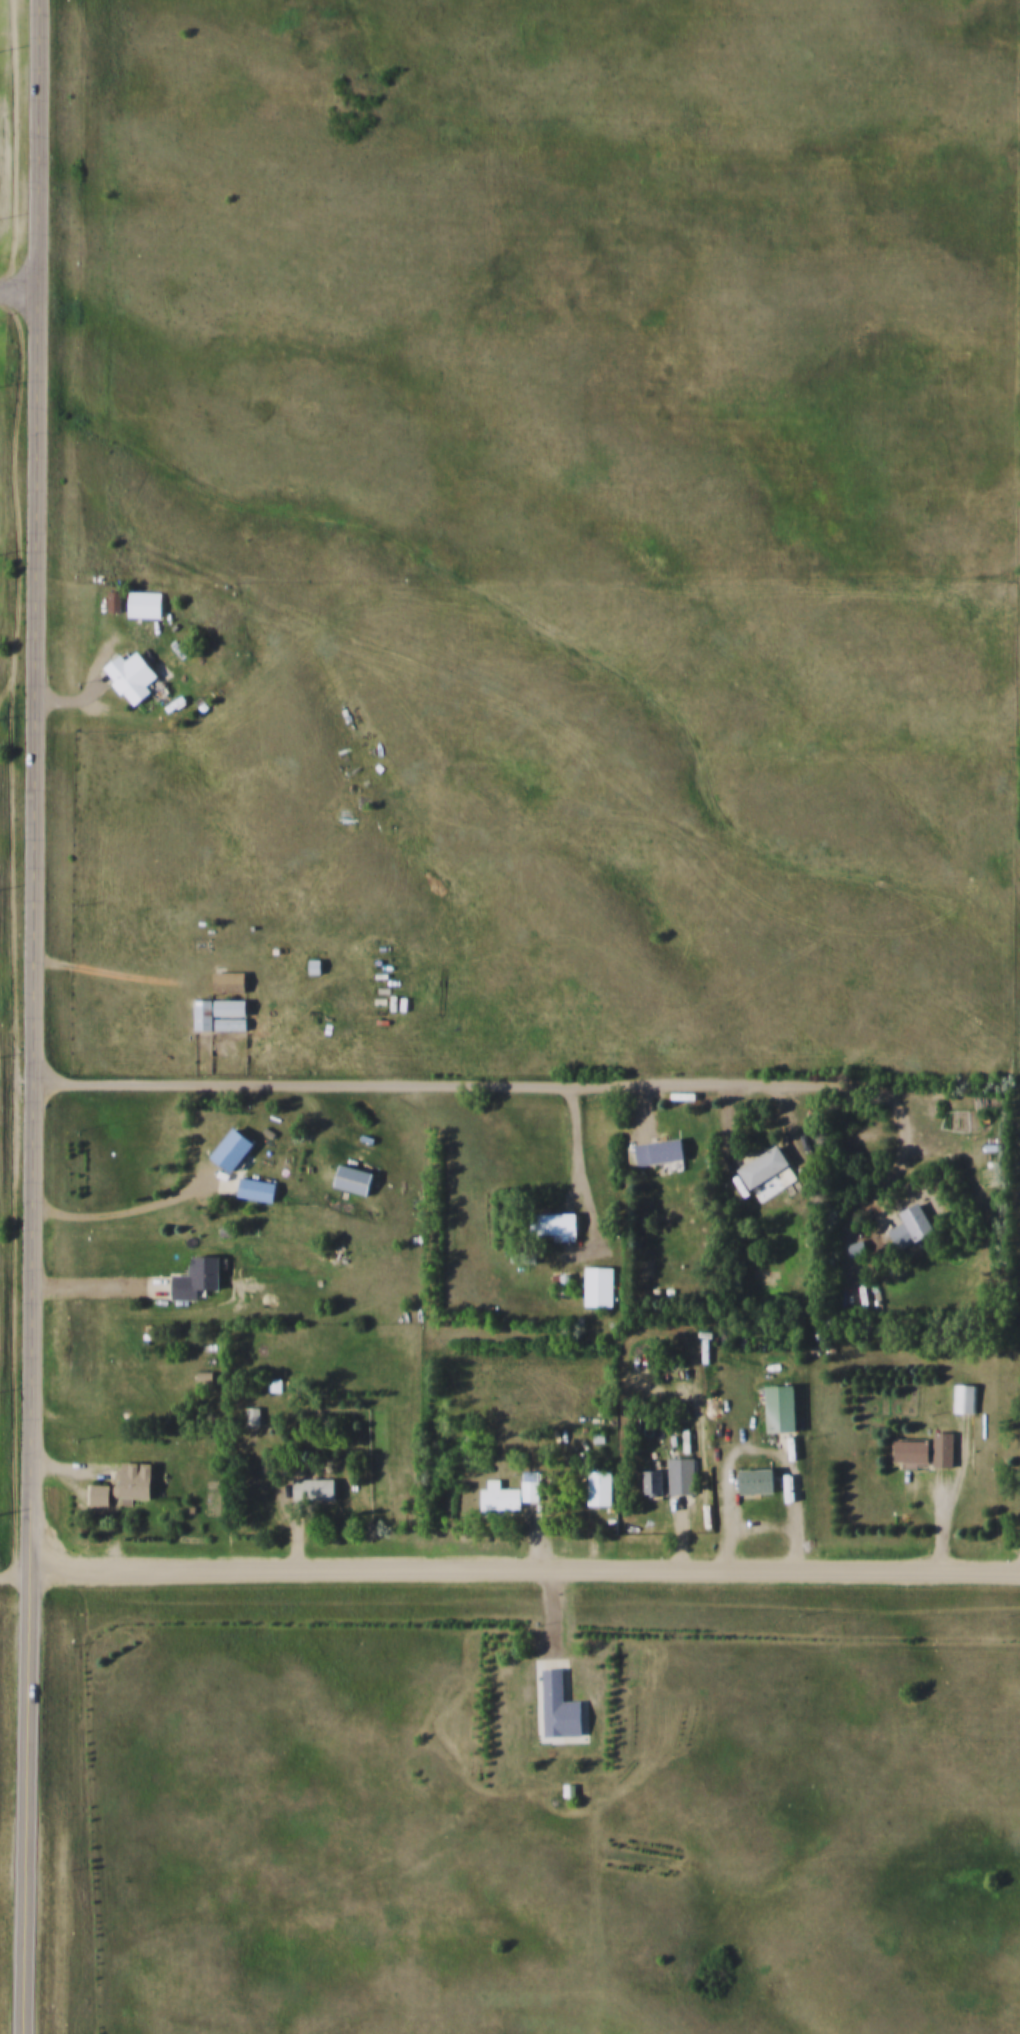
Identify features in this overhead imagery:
road: (20, 290)
building: (116, 602)
building: (147, 604)
building: (134, 677)
road: (37, 787)
road: (111, 971)
building: (231, 981)
building: (222, 1014)
road: (464, 1085)
building: (236, 1148)
building: (662, 1150)
road: (902, 1150)
building: (769, 1167)
road: (583, 1170)
building: (356, 1179)
building: (253, 1187)
road: (131, 1211)
building: (556, 1224)
building: (915, 1225)
building: (859, 1247)
building: (200, 1277)
building: (601, 1286)
road: (93, 1291)
building: (784, 1407)
building: (254, 1415)
road: (759, 1448)
building: (946, 1448)
building: (915, 1450)
building: (684, 1472)
building: (137, 1480)
building: (762, 1480)
building: (656, 1482)
building: (601, 1487)
building: (316, 1488)
building: (511, 1493)
building: (102, 1495)
road: (955, 1495)
road: (524, 1570)
road: (15, 1575)
road: (551, 1614)
building: (563, 1707)
road: (25, 1804)

